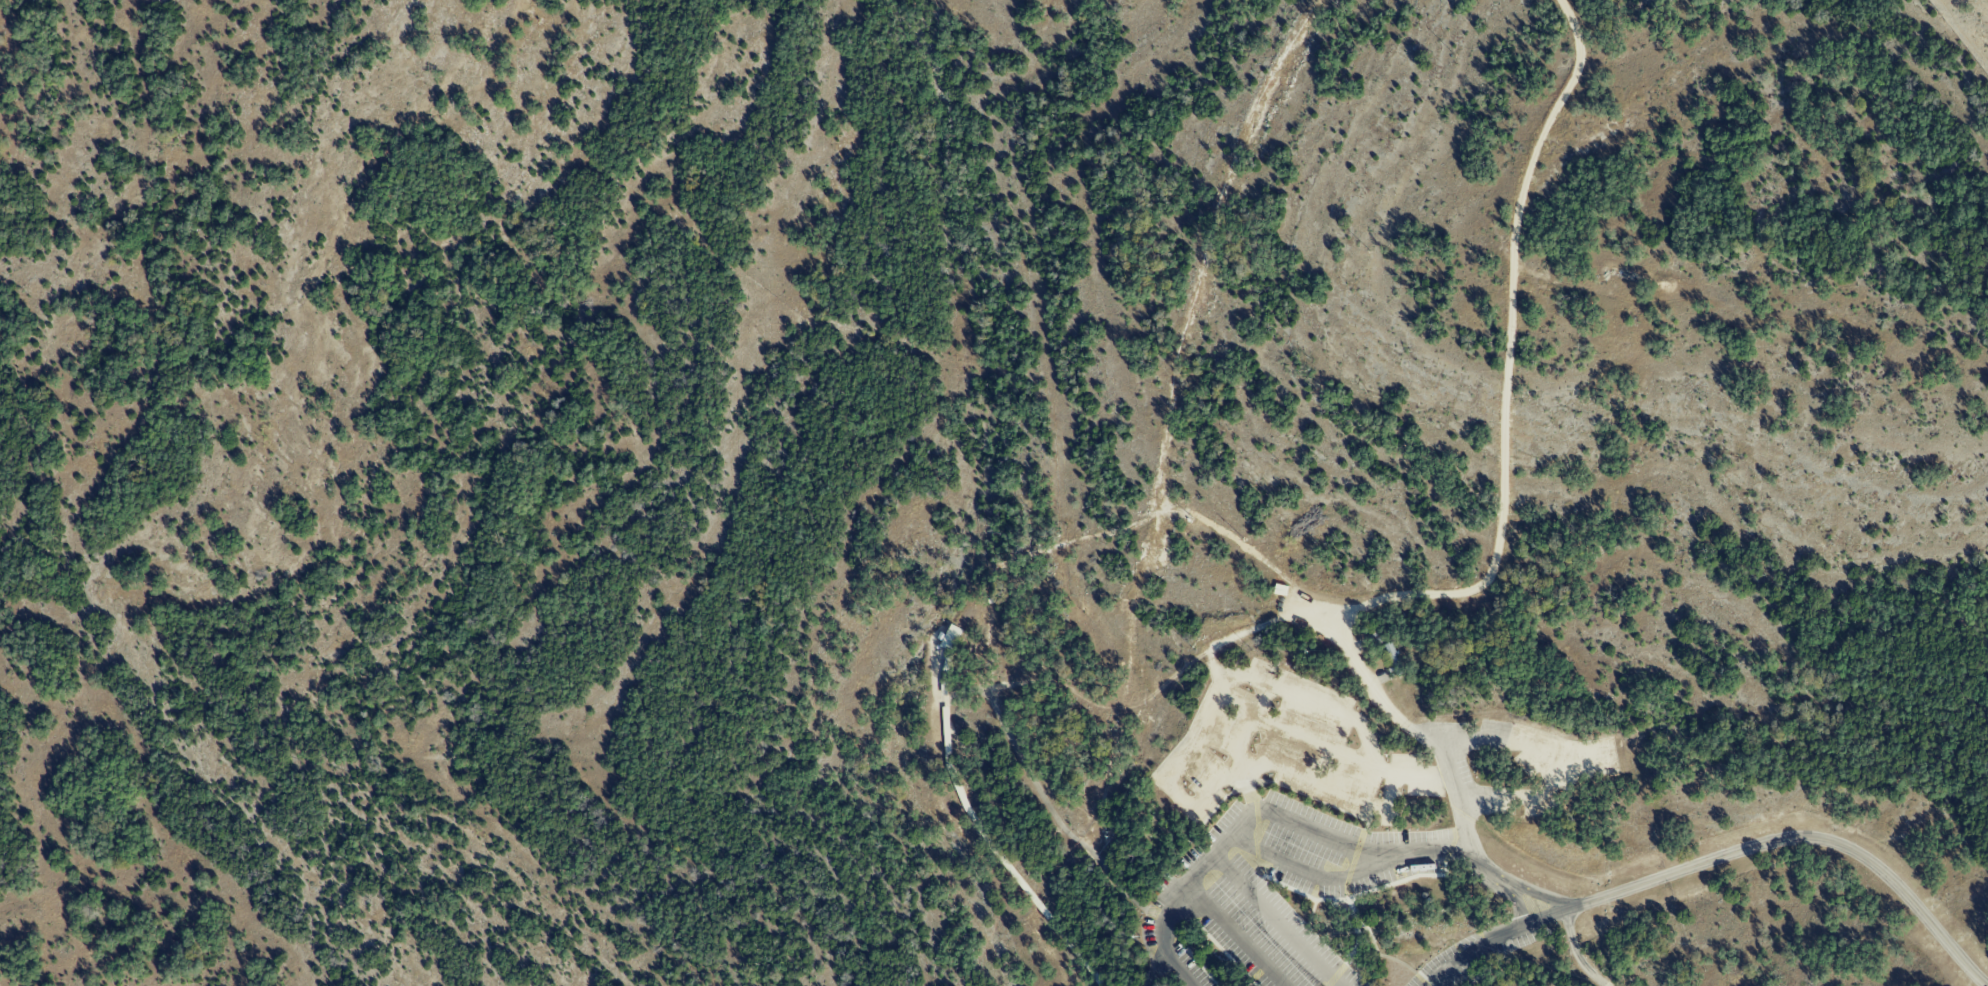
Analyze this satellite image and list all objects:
road: (1500, 494)
building: (950, 636)
building: (1392, 652)
road: (1278, 816)
road: (1798, 836)
road: (1319, 870)
road: (1237, 878)
parking lot: (1275, 891)
road: (1537, 898)
road: (1519, 904)
road: (1241, 935)
road: (1488, 937)
parking lot: (1478, 950)
road: (1573, 953)

